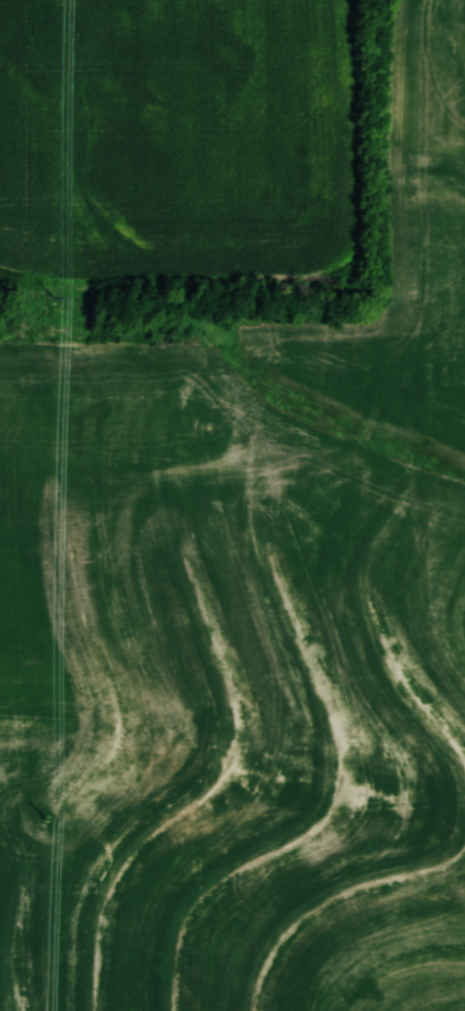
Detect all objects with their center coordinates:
power tower: (53, 300)
power tower: (44, 814)

